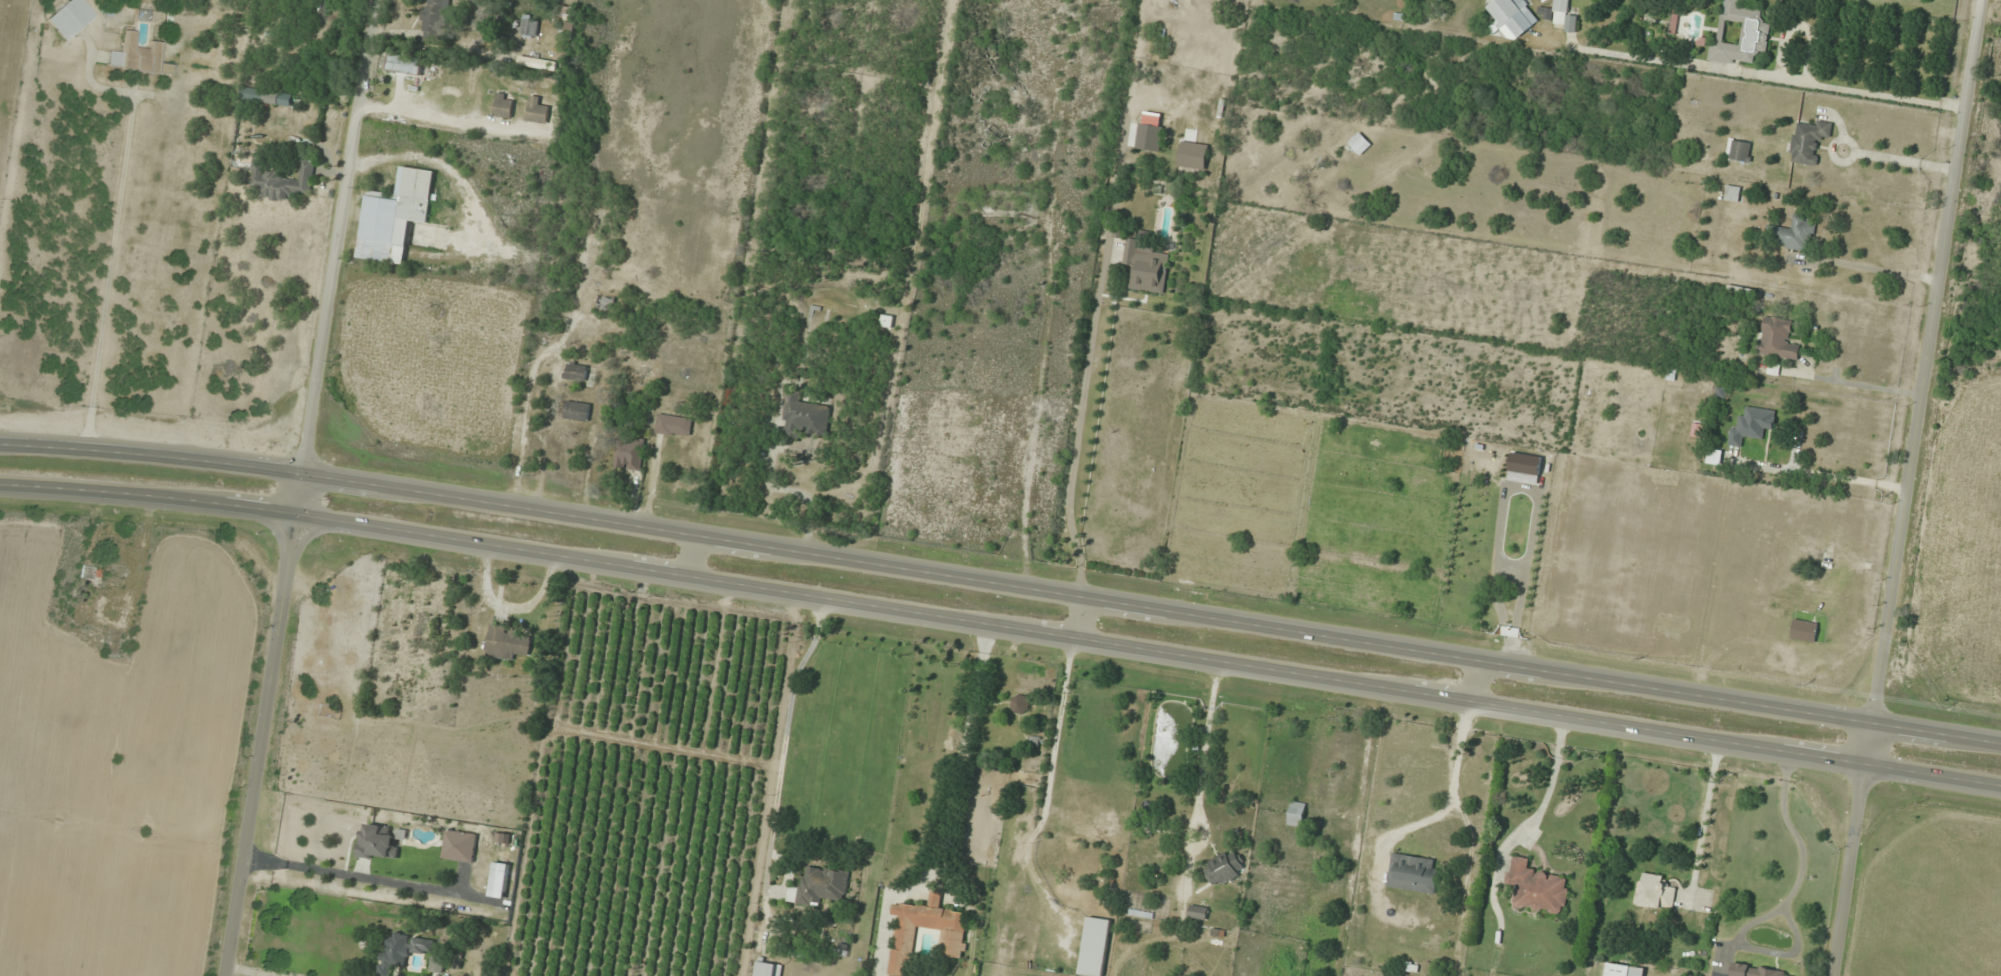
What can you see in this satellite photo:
building: (1560, 14)
building: (1512, 16)
building: (70, 18)
building: (434, 19)
building: (529, 25)
building: (1740, 32)
building: (138, 57)
building: (405, 65)
building: (265, 96)
building: (503, 105)
building: (537, 110)
building: (1149, 131)
building: (1808, 140)
building: (1359, 143)
building: (1740, 149)
building: (1193, 154)
building: (283, 180)
building: (1732, 192)
road: (541, 208)
building: (395, 215)
building: (1798, 233)
building: (1145, 266)
building: (605, 301)
road: (399, 315)
building: (586, 335)
building: (1777, 338)
road: (1926, 361)
building: (576, 371)
building: (580, 410)
building: (806, 415)
building: (1751, 424)
building: (674, 425)
building: (628, 456)
building: (1714, 456)
road: (300, 488)
road: (695, 555)
road: (1001, 583)
road: (1077, 617)
road: (1001, 626)
building: (1804, 630)
building: (506, 642)
road: (1472, 680)
building: (1020, 703)
building: (1296, 813)
road: (338, 826)
building: (379, 841)
building: (459, 845)
road: (1852, 849)
building: (1224, 868)
building: (1412, 873)
building: (499, 879)
building: (823, 886)
building: (1536, 888)
building: (1654, 891)
building: (1197, 912)
building: (952, 942)
building: (1094, 946)
building: (403, 951)
building: (437, 964)
building: (767, 969)
building: (1623, 970)
road: (258, 971)
building: (1760, 971)

